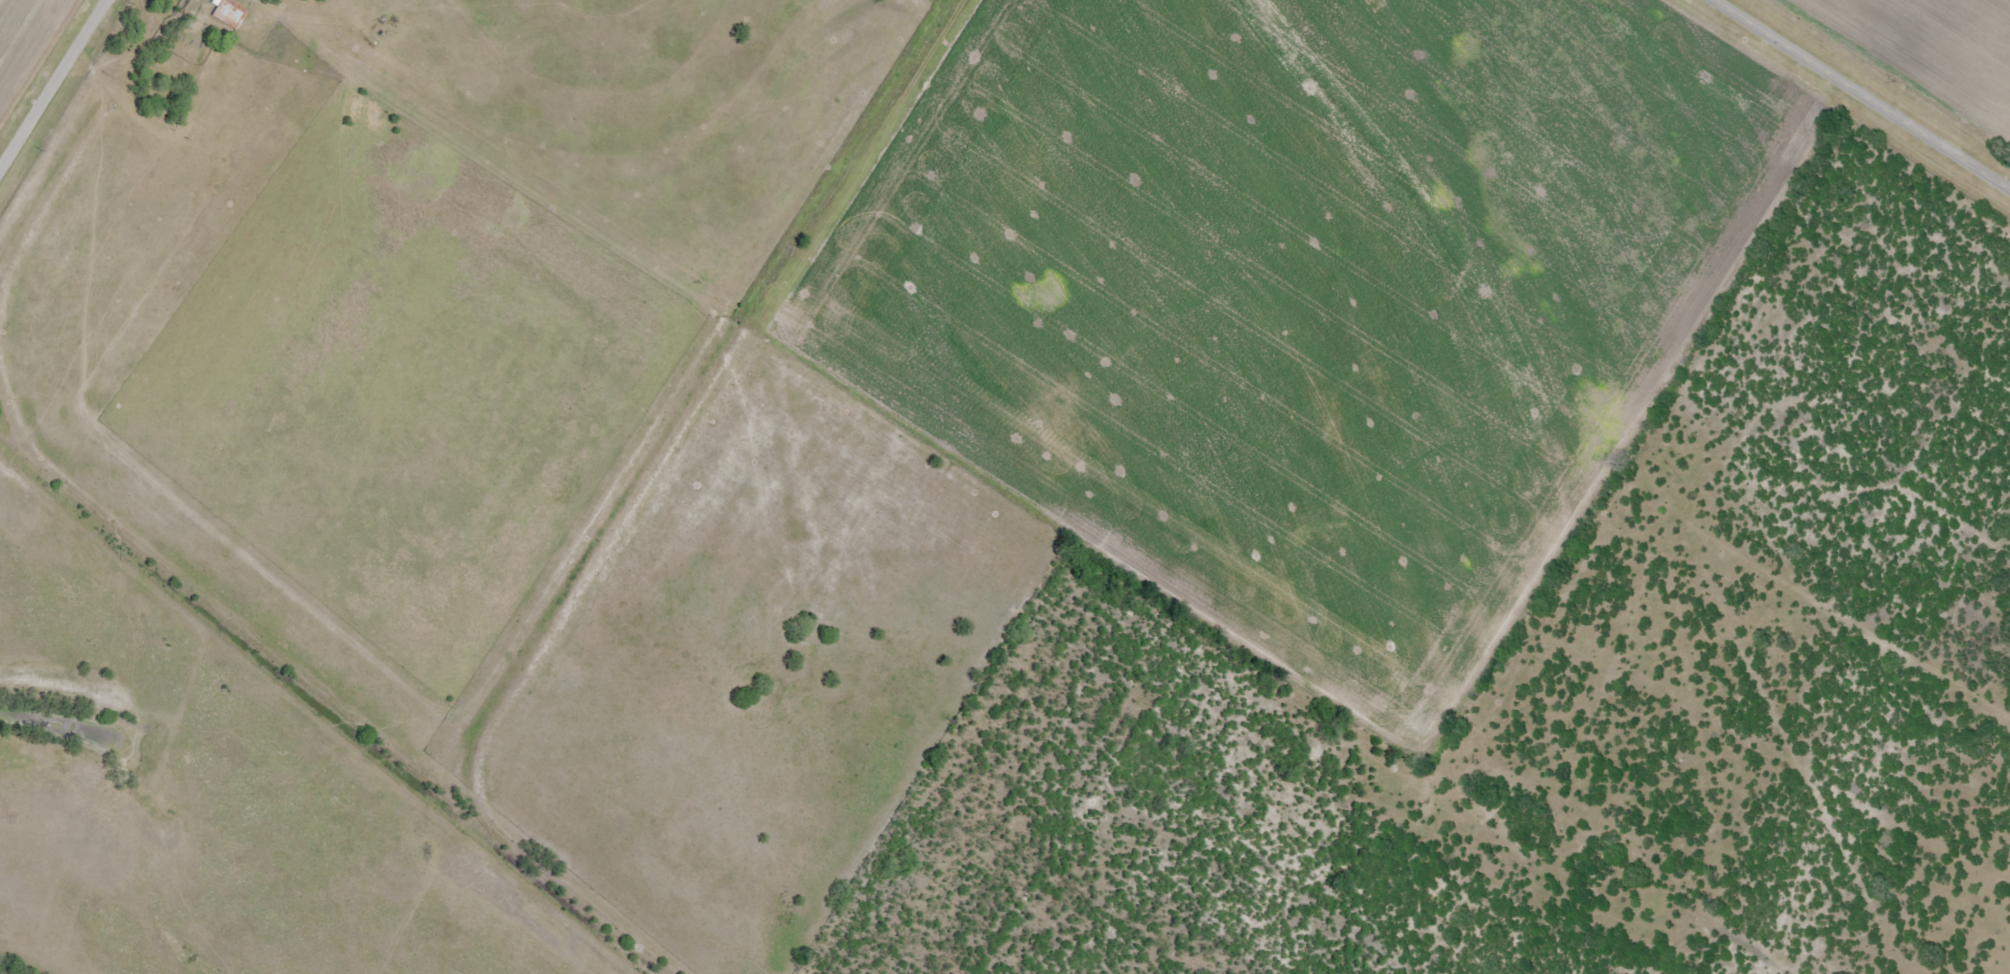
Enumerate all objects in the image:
road: (55, 85)
road: (1870, 88)

